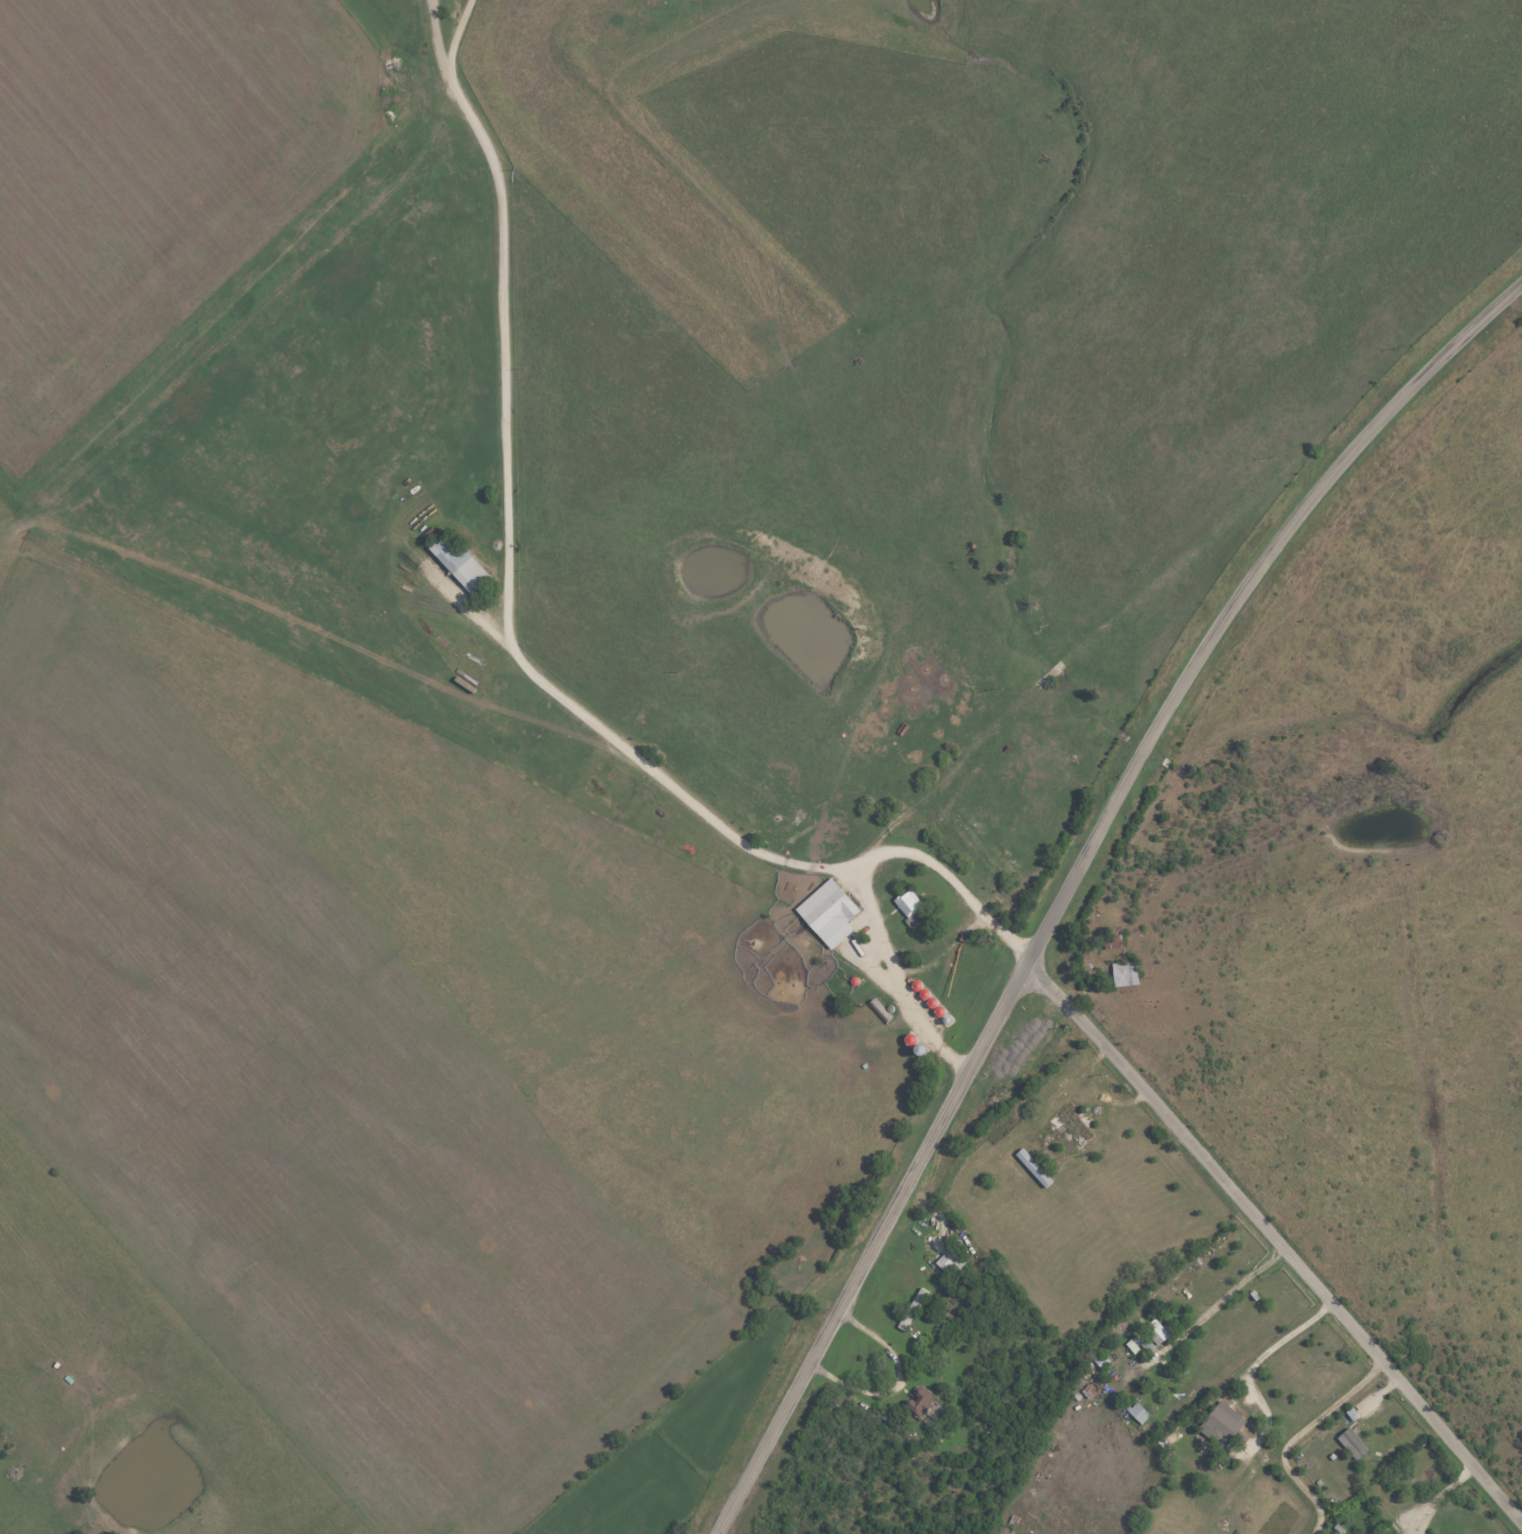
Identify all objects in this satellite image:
dam: (685, 31)
building: (459, 564)
road: (469, 607)
road: (517, 654)
road: (1074, 878)
road: (944, 883)
building: (908, 903)
building: (828, 914)
building: (1124, 974)
road: (1277, 1242)
building: (951, 1262)
road: (1217, 1306)
building: (1157, 1331)
road: (1276, 1346)
building: (1100, 1360)
road: (895, 1384)
building: (918, 1404)
building: (1138, 1413)
building: (1225, 1421)
road: (1295, 1438)
building: (1352, 1444)
road: (1436, 1496)
building: (1371, 1533)

